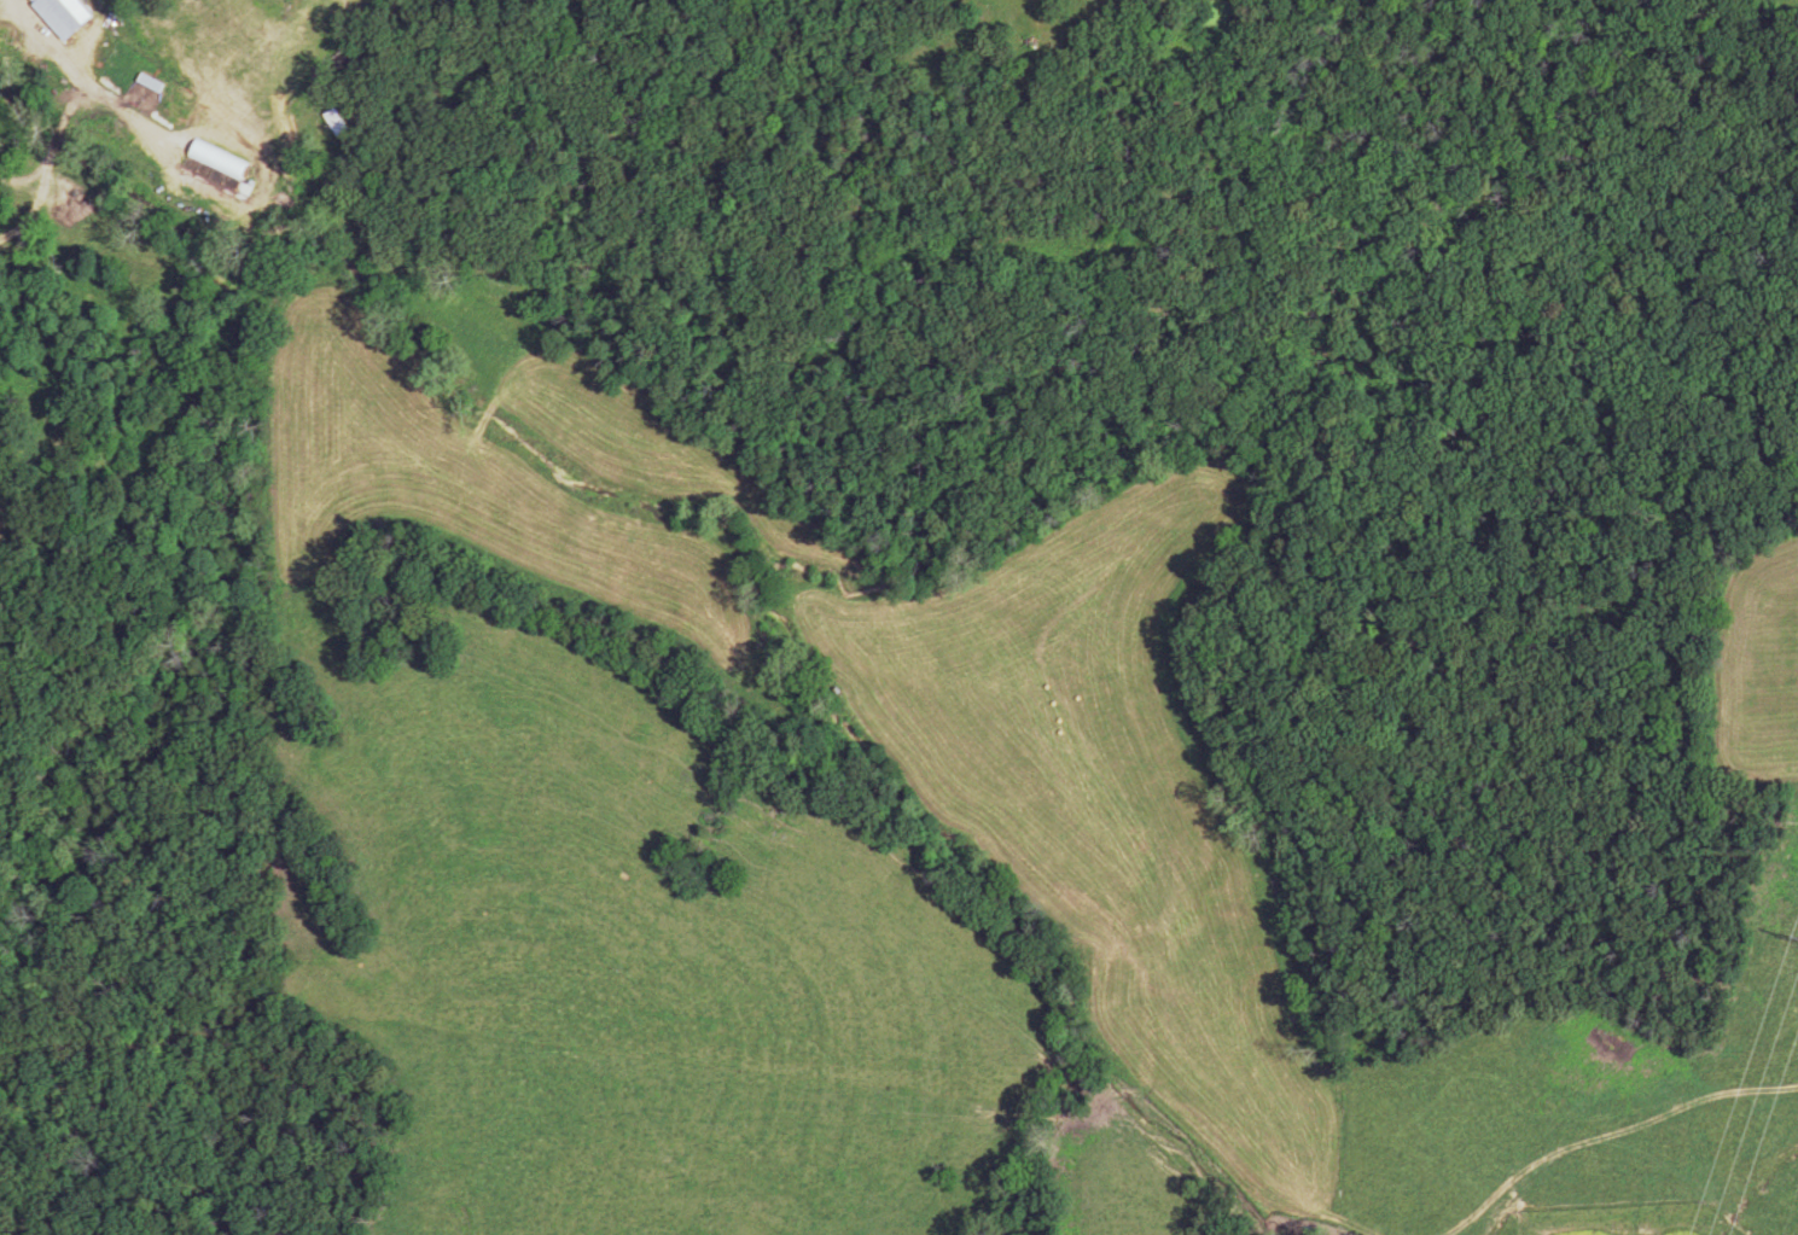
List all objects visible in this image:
building: (65, 16)

